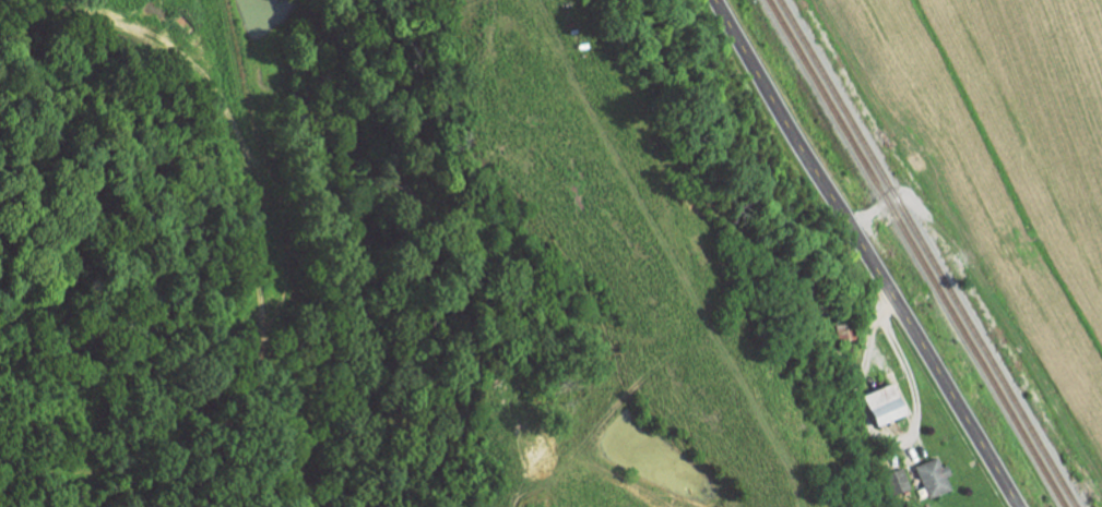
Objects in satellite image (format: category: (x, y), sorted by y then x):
crop: (993, 181)
road: (911, 200)
road: (865, 253)
railway: (915, 253)
railway: (927, 253)
road: (908, 370)

